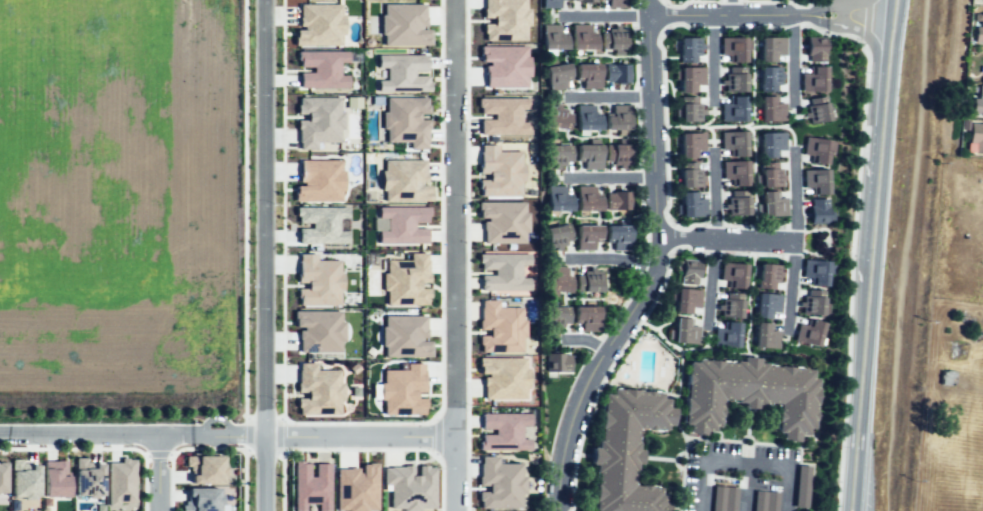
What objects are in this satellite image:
building: (582, 0)
building: (583, 2)
road: (844, 2)
building: (549, 3)
building: (612, 3)
road: (731, 7)
road: (817, 9)
road: (728, 14)
road: (601, 15)
road: (818, 18)
building: (505, 20)
road: (865, 22)
building: (319, 24)
building: (403, 24)
road: (891, 30)
road: (862, 32)
building: (978, 32)
building: (551, 37)
building: (578, 38)
building: (611, 42)
building: (685, 49)
building: (731, 49)
building: (767, 49)
building: (812, 53)
road: (793, 56)
road: (709, 60)
building: (504, 65)
building: (322, 69)
building: (402, 72)
building: (584, 73)
building: (614, 74)
building: (554, 77)
building: (688, 79)
building: (766, 79)
building: (811, 80)
building: (733, 81)
road: (885, 93)
road: (611, 100)
building: (977, 104)
building: (685, 110)
building: (768, 110)
building: (731, 111)
building: (817, 112)
building: (503, 115)
building: (555, 119)
building: (318, 121)
building: (406, 121)
building: (583, 122)
building: (615, 124)
building: (976, 139)
building: (732, 144)
building: (689, 145)
building: (768, 145)
building: (814, 150)
building: (554, 155)
building: (585, 155)
building: (616, 155)
building: (500, 171)
building: (734, 172)
building: (767, 176)
building: (688, 178)
road: (612, 179)
building: (319, 180)
building: (404, 180)
building: (814, 181)
road: (877, 185)
road: (712, 193)
building: (581, 199)
building: (554, 200)
building: (618, 201)
building: (688, 205)
building: (738, 205)
building: (771, 207)
road: (283, 209)
road: (244, 210)
road: (441, 210)
building: (819, 212)
building: (503, 221)
building: (322, 224)
building: (402, 224)
building: (583, 236)
building: (616, 236)
building: (555, 237)
road: (728, 237)
road: (796, 241)
road: (264, 255)
road: (453, 255)
road: (466, 255)
road: (611, 257)
road: (655, 266)
building: (503, 271)
building: (684, 272)
building: (812, 274)
building: (731, 275)
building: (767, 276)
building: (318, 280)
building: (405, 280)
road: (710, 281)
building: (554, 283)
building: (585, 286)
building: (684, 301)
building: (812, 303)
building: (764, 305)
building: (728, 309)
building: (554, 318)
building: (583, 320)
building: (500, 327)
building: (318, 330)
building: (682, 333)
building: (806, 335)
building: (404, 336)
building: (724, 336)
building: (762, 338)
road: (588, 339)
building: (554, 364)
road: (861, 376)
building: (503, 377)
building: (318, 390)
building: (402, 390)
building: (747, 395)
road: (215, 419)
road: (357, 422)
building: (503, 431)
road: (247, 433)
road: (280, 435)
road: (95, 436)
road: (322, 436)
road: (435, 437)
road: (73, 448)
road: (222, 448)
road: (182, 449)
road: (357, 449)
building: (622, 450)
road: (158, 454)
building: (205, 468)
road: (740, 470)
road: (159, 473)
building: (2, 477)
building: (55, 478)
building: (87, 478)
parking lot: (745, 478)
building: (24, 479)
road: (170, 480)
building: (121, 481)
road: (145, 481)
road: (244, 481)
road: (282, 481)
road: (441, 481)
building: (500, 483)
building: (311, 485)
building: (800, 485)
building: (410, 487)
building: (356, 488)
road: (745, 491)
building: (201, 499)
building: (722, 499)
building: (765, 501)
building: (792, 510)

